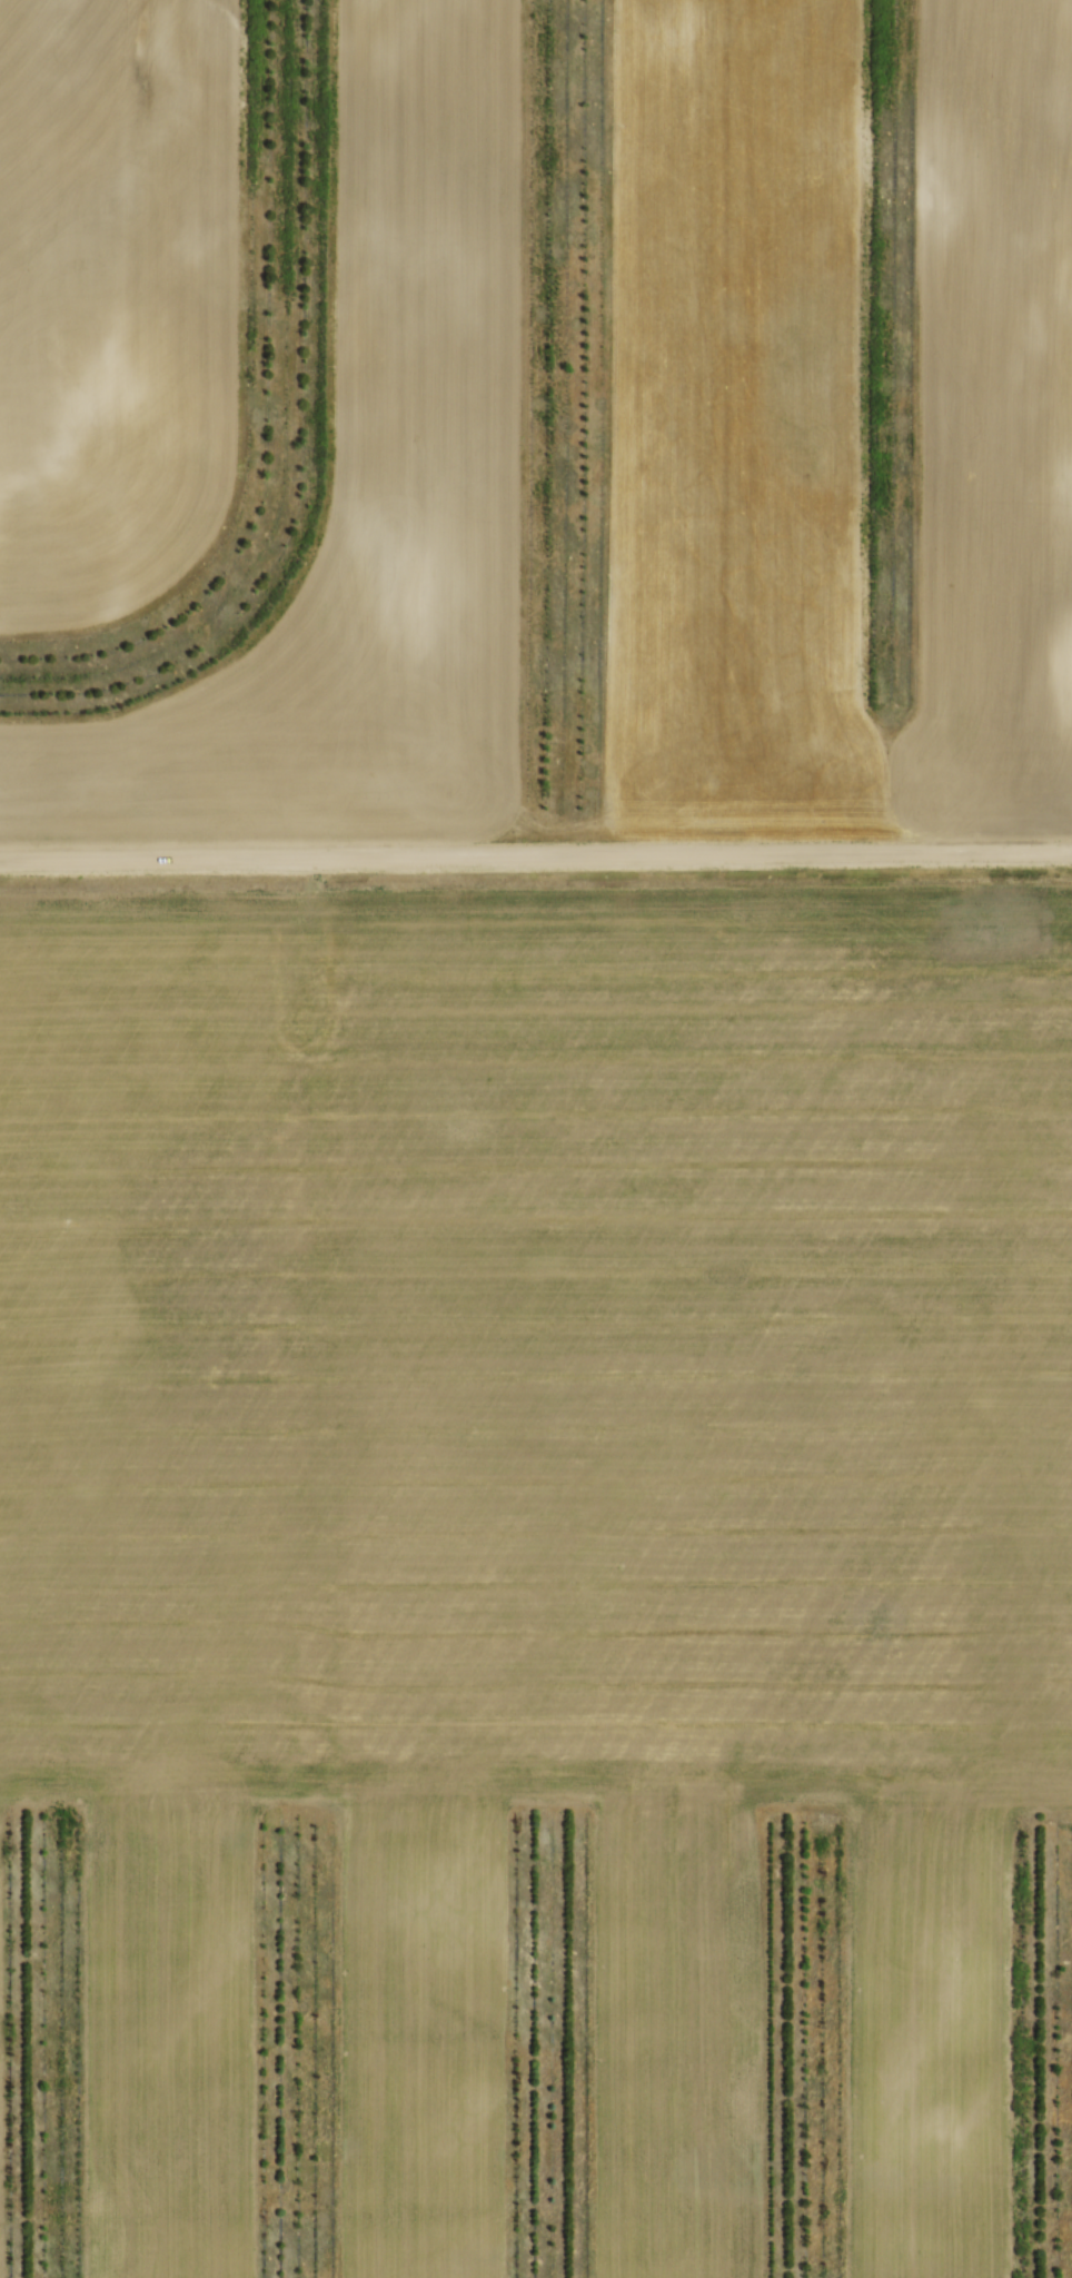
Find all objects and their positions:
road: (536, 859)

